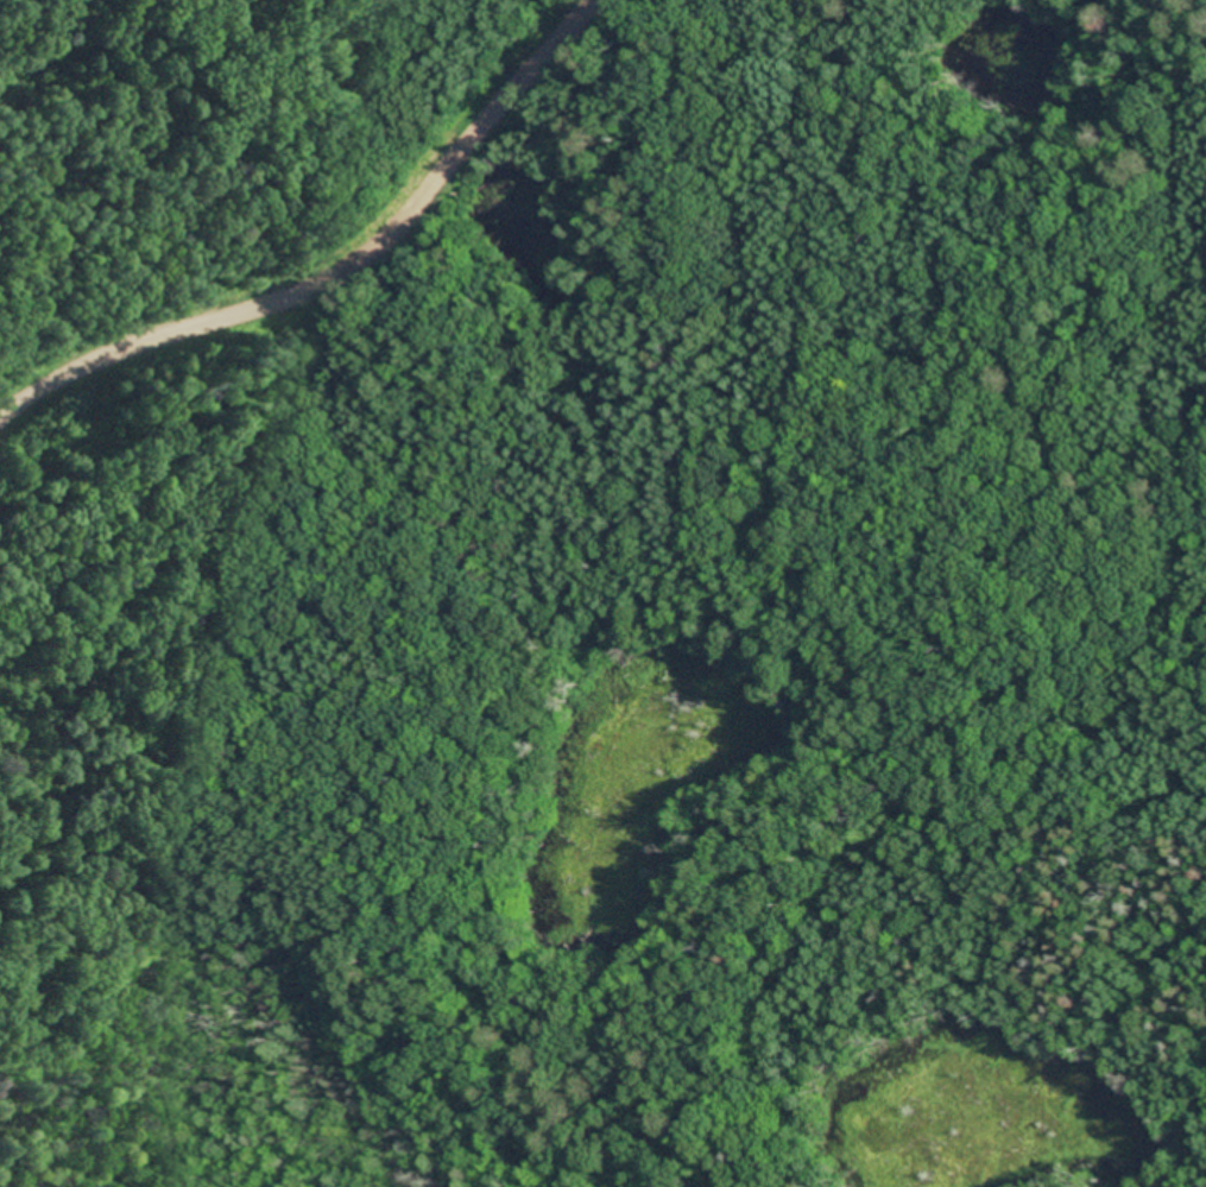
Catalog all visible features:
road: (341, 270)

